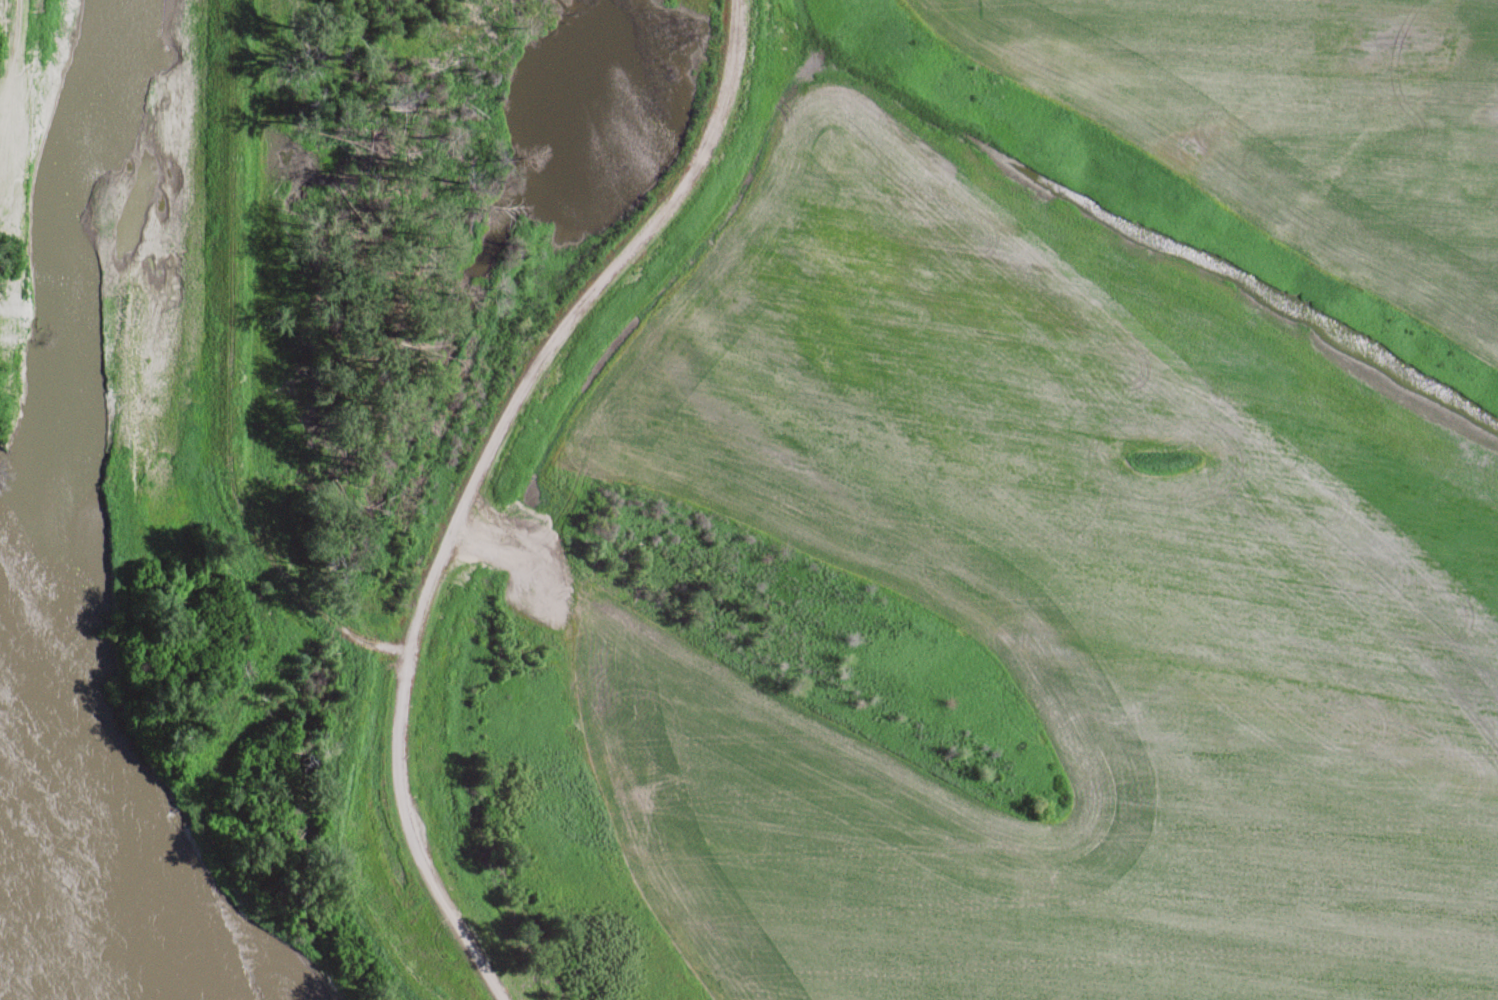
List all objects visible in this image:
road: (475, 479)

